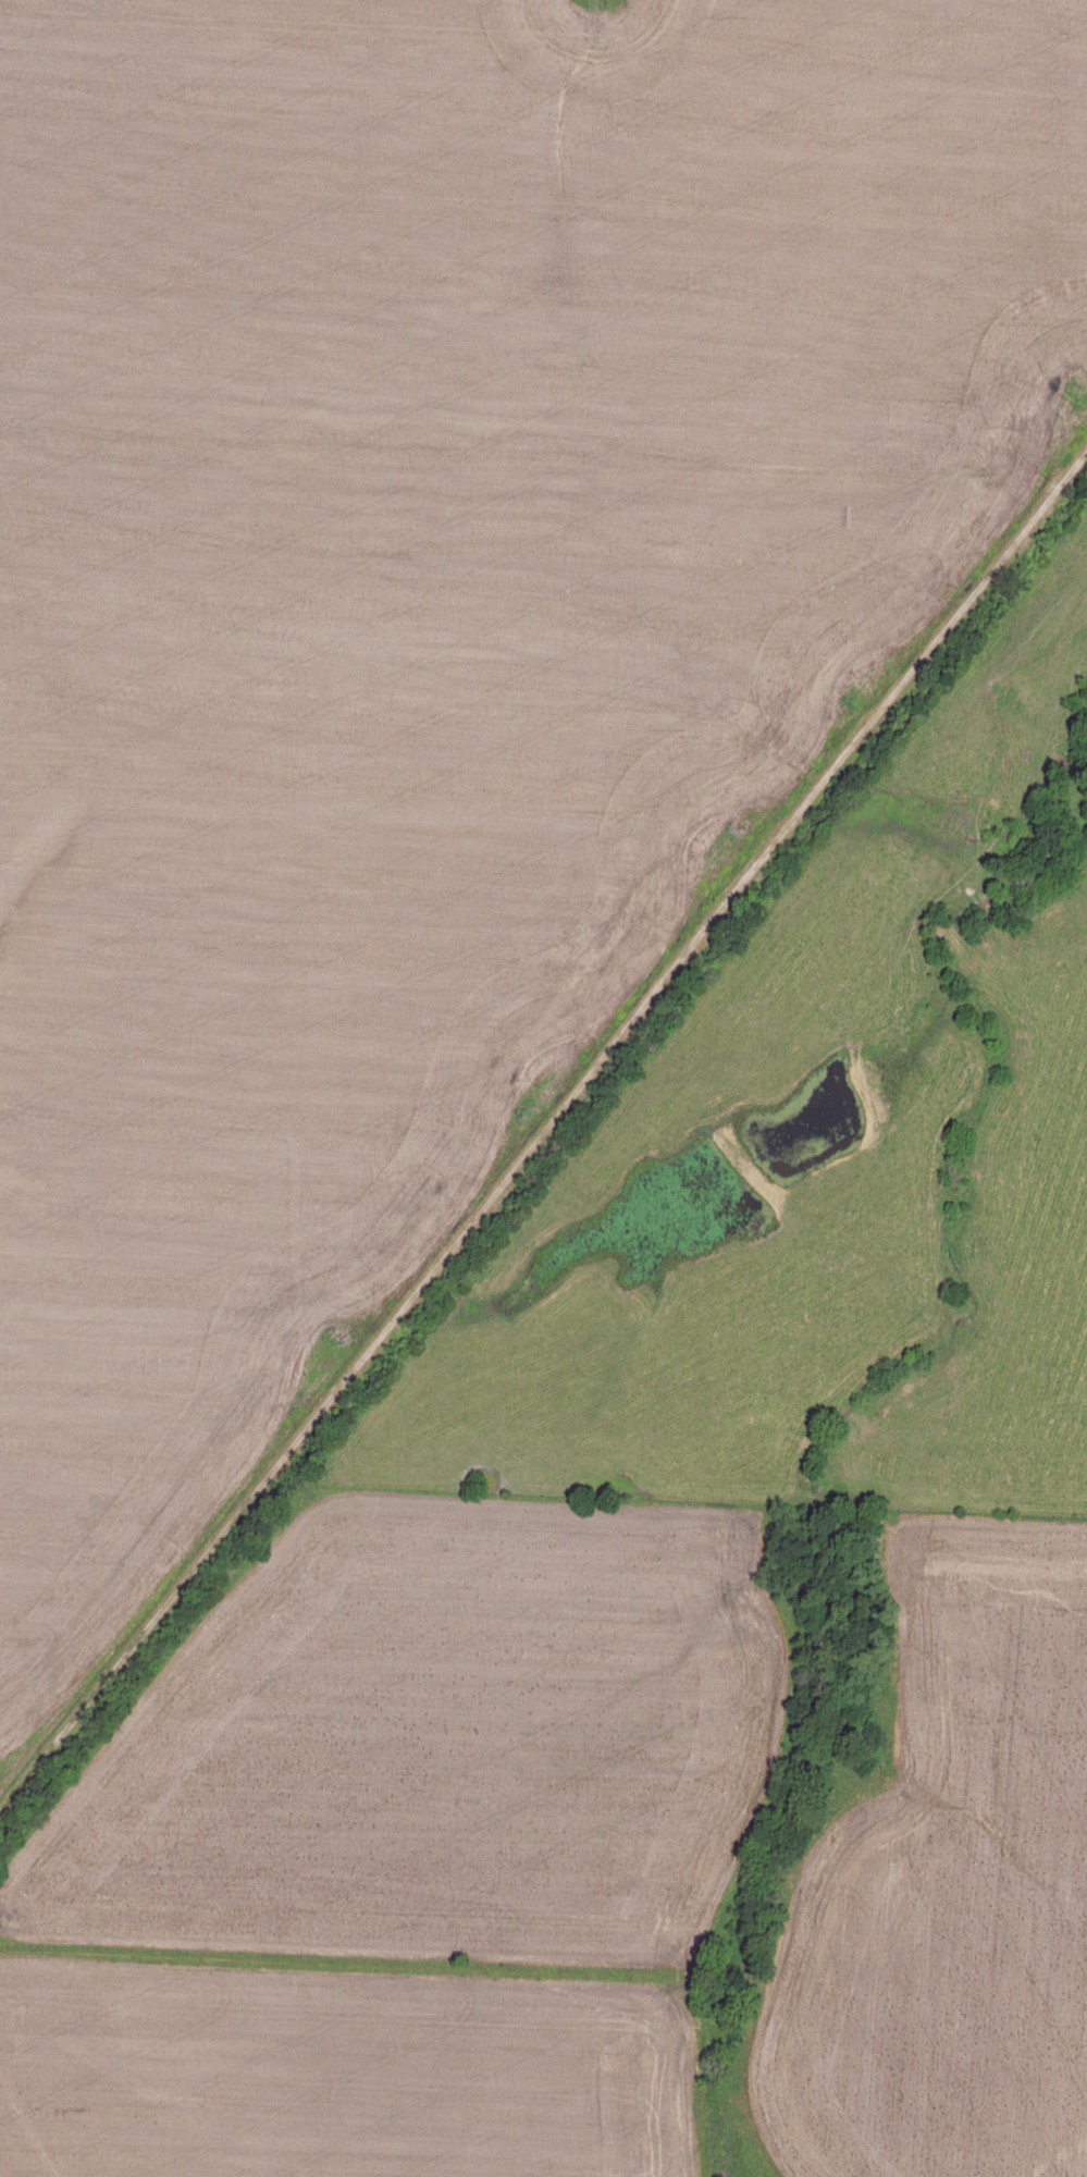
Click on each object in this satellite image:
road: (690, 2076)

